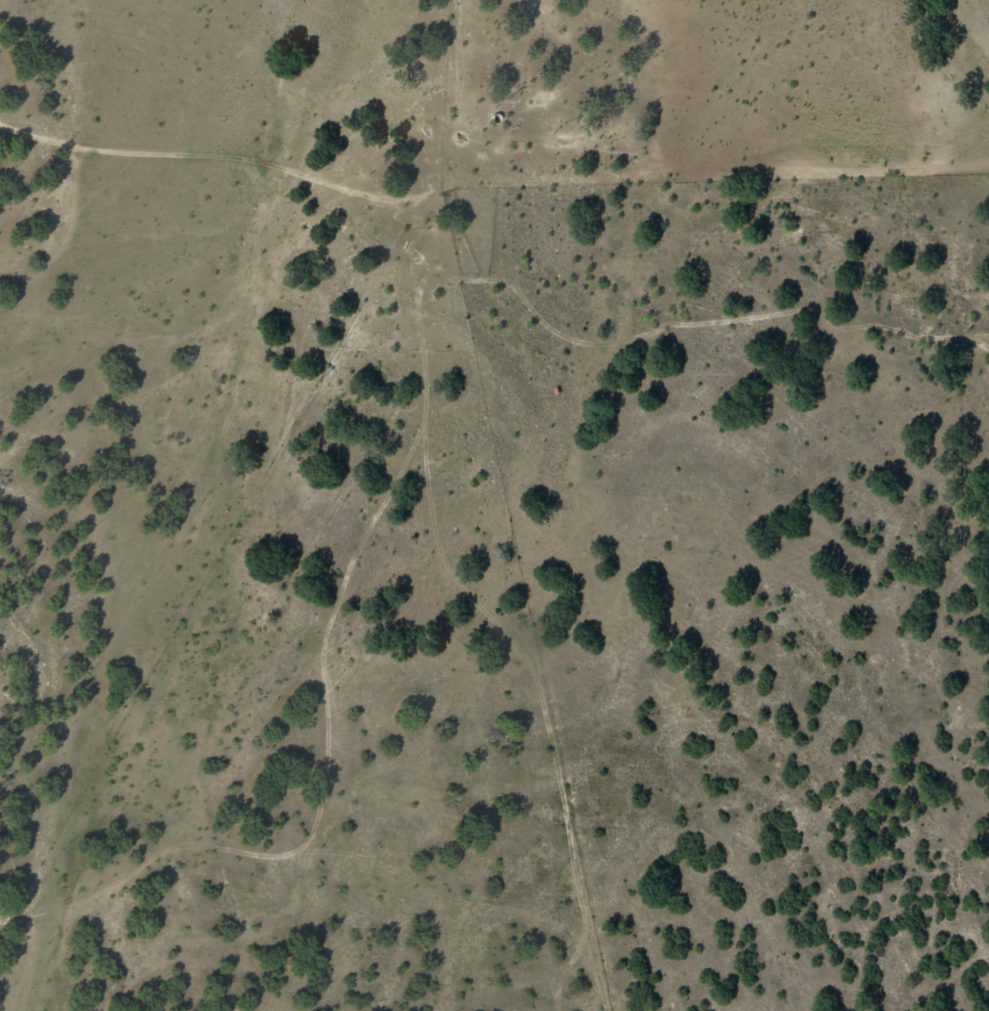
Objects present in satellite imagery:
road: (226, 151)
road: (720, 347)
road: (401, 497)

